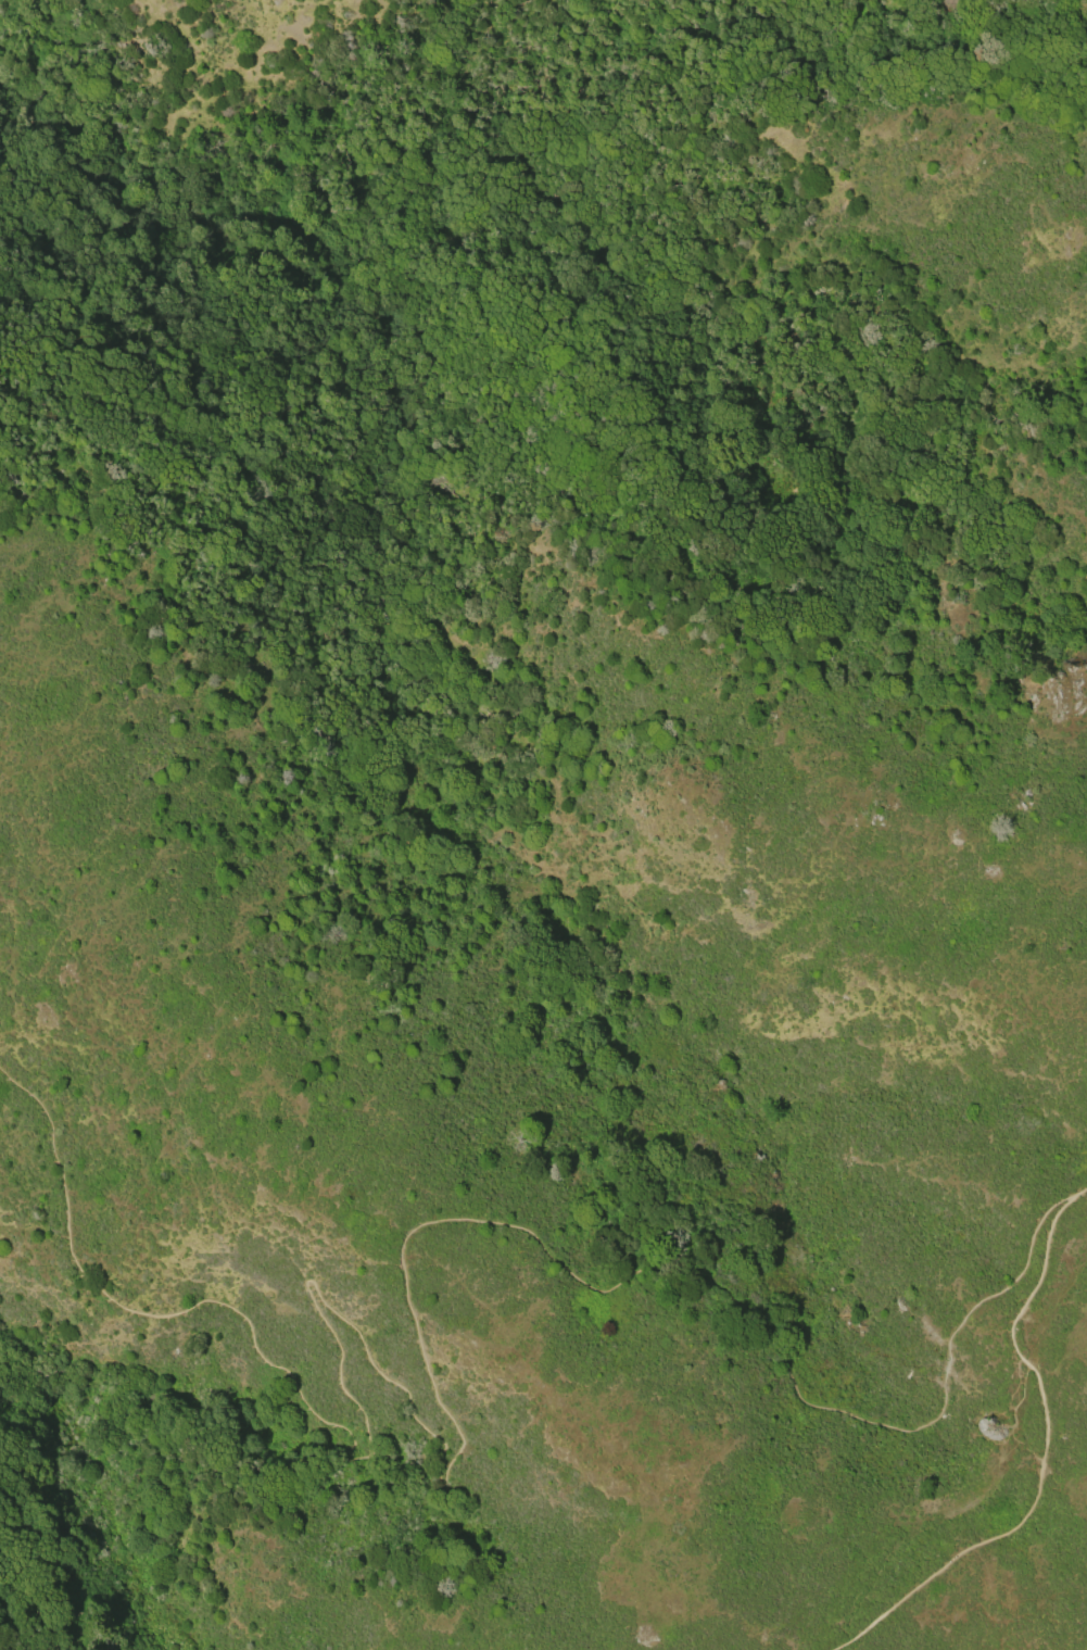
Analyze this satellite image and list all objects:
road: (1072, 1196)
road: (450, 1468)
road: (1044, 1473)

